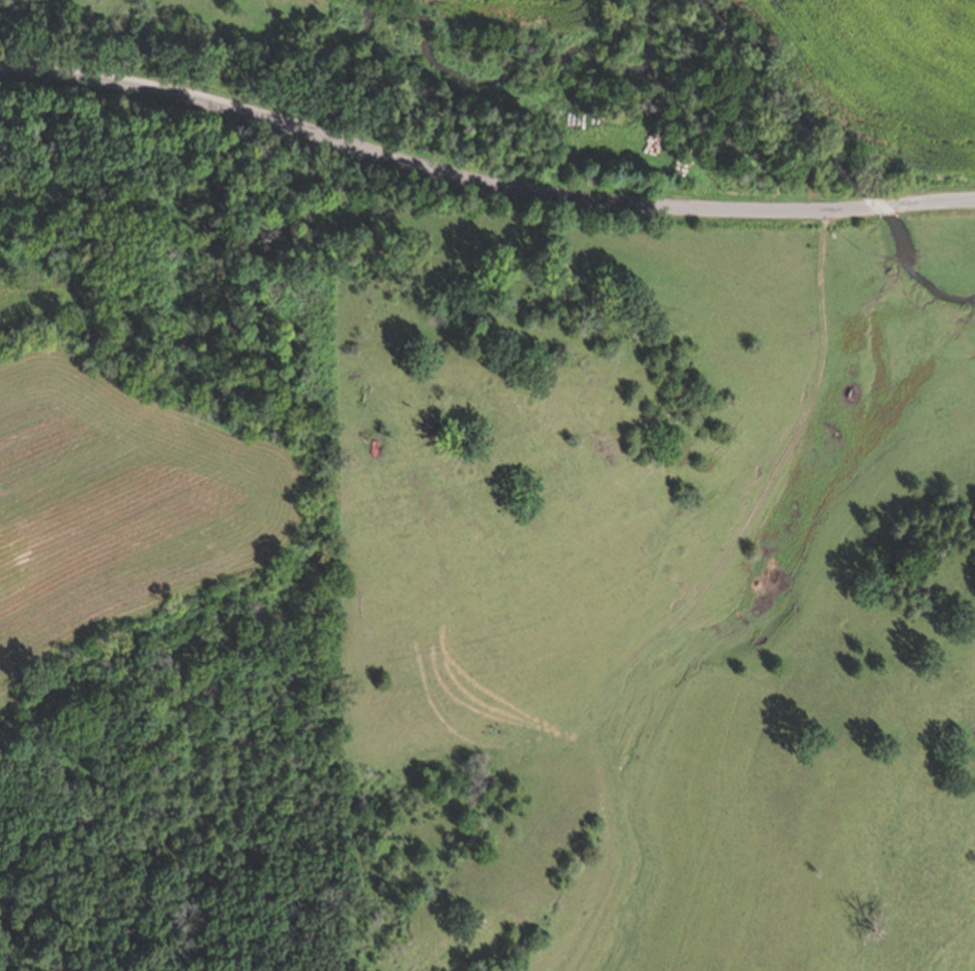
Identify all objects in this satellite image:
road: (481, 182)

